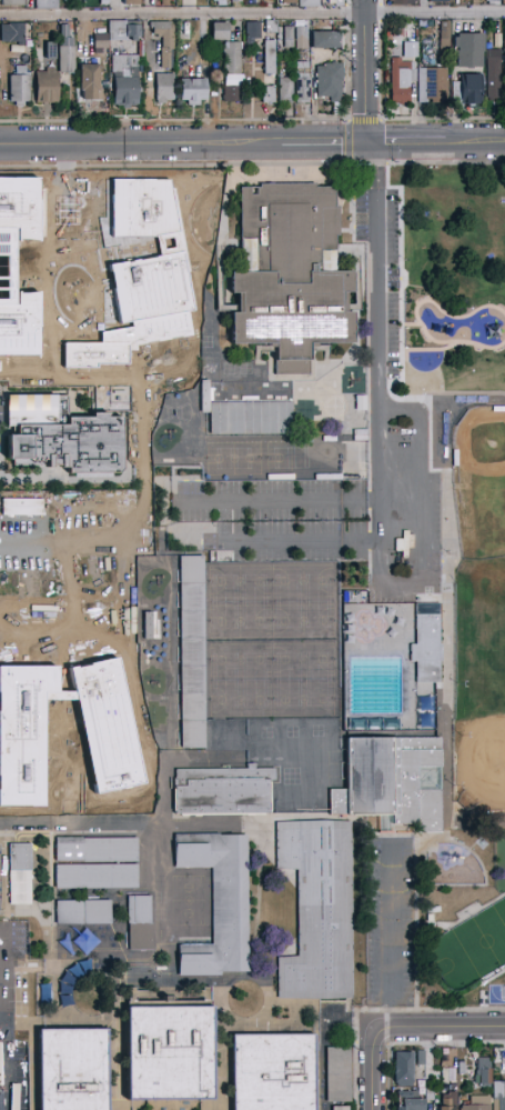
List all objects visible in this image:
building: (220, 0)
building: (236, 1)
building: (437, 1)
building: (493, 1)
building: (131, 2)
building: (289, 2)
building: (331, 2)
building: (336, 2)
building: (402, 2)
building: (12, 3)
building: (164, 3)
building: (309, 3)
building: (47, 4)
road: (252, 14)
building: (271, 27)
building: (122, 31)
building: (220, 31)
building: (252, 31)
building: (12, 33)
building: (287, 37)
building: (301, 38)
building: (445, 38)
building: (324, 40)
building: (100, 43)
building: (164, 43)
building: (504, 44)
building: (411, 48)
building: (140, 49)
building: (469, 49)
building: (51, 51)
building: (67, 51)
building: (427, 51)
building: (270, 57)
building: (232, 58)
building: (21, 69)
road: (364, 71)
building: (493, 73)
building: (125, 80)
building: (330, 81)
building: (402, 81)
building: (90, 82)
building: (302, 82)
building: (432, 84)
building: (47, 87)
building: (164, 88)
building: (19, 89)
building: (471, 90)
building: (192, 91)
building: (285, 91)
building: (232, 94)
building: (269, 94)
road: (442, 119)
road: (174, 120)
road: (349, 127)
road: (475, 141)
road: (323, 142)
traffic signals: (367, 142)
road: (406, 142)
road: (140, 143)
road: (445, 163)
road: (375, 164)
road: (182, 166)
flagpole: (244, 180)
building: (286, 271)
road: (376, 277)
road: (462, 406)
building: (248, 414)
parking lot: (394, 428)
building: (55, 439)
park: (481, 481)
park: (440, 562)
road: (422, 579)
building: (424, 640)
building: (189, 650)
park: (482, 742)
building: (388, 778)
building: (220, 788)
building: (93, 847)
building: (17, 872)
building: (93, 873)
building: (214, 900)
building: (315, 907)
building: (80, 910)
building: (137, 921)
parking lot: (390, 921)
road: (391, 932)
building: (75, 940)
road: (4, 974)
road: (430, 1008)
parking lot: (14, 1017)
road: (2, 1020)
road: (440, 1028)
building: (171, 1052)
building: (421, 1058)
road: (356, 1060)
road: (4, 1064)
building: (73, 1069)
road: (373, 1069)
building: (404, 1069)
building: (462, 1069)
building: (274, 1071)
building: (483, 1071)
building: (335, 1072)
building: (447, 1078)
building: (454, 1087)
building: (431, 1093)
building: (498, 1096)
building: (410, 1101)
building: (450, 1101)
building: (476, 1103)
building: (337, 1107)

